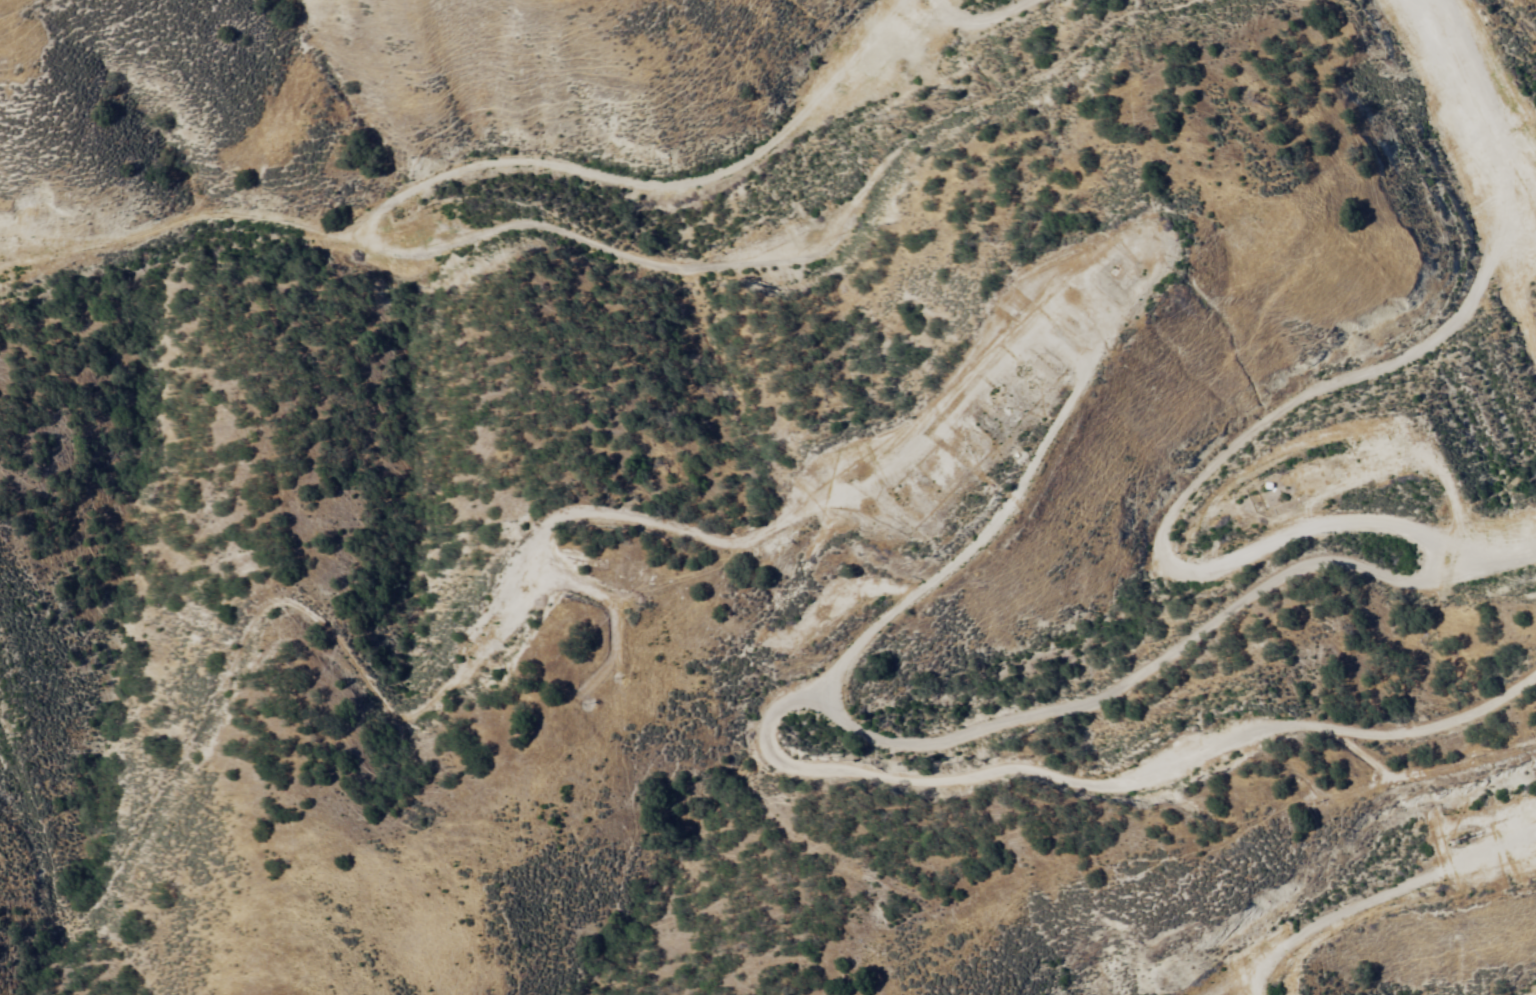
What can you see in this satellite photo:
road: (1520, 29)
road: (1447, 115)
road: (1045, 299)
road: (536, 300)
road: (1162, 498)
road: (1076, 696)
road: (1380, 909)
road: (1506, 991)

